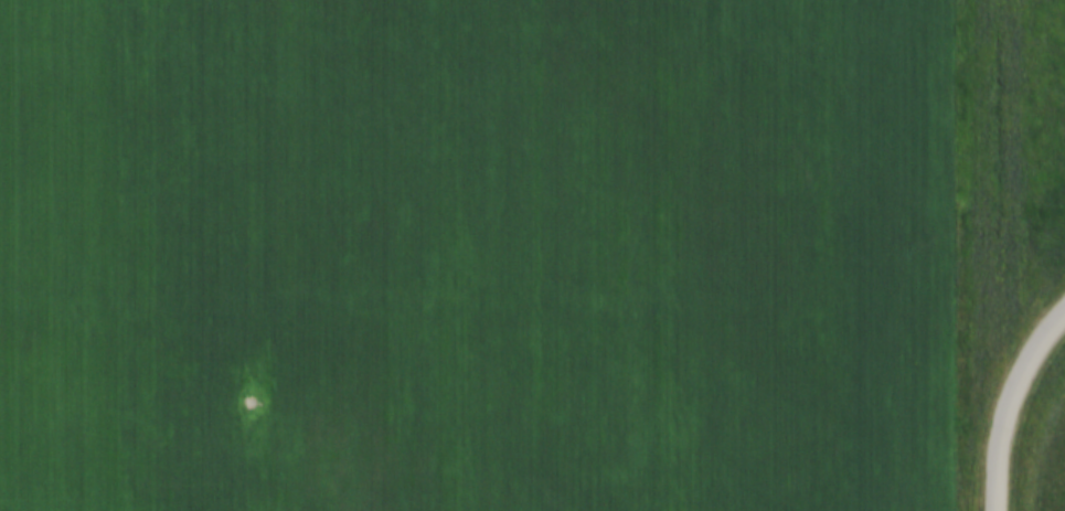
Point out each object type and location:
road: (1010, 395)

